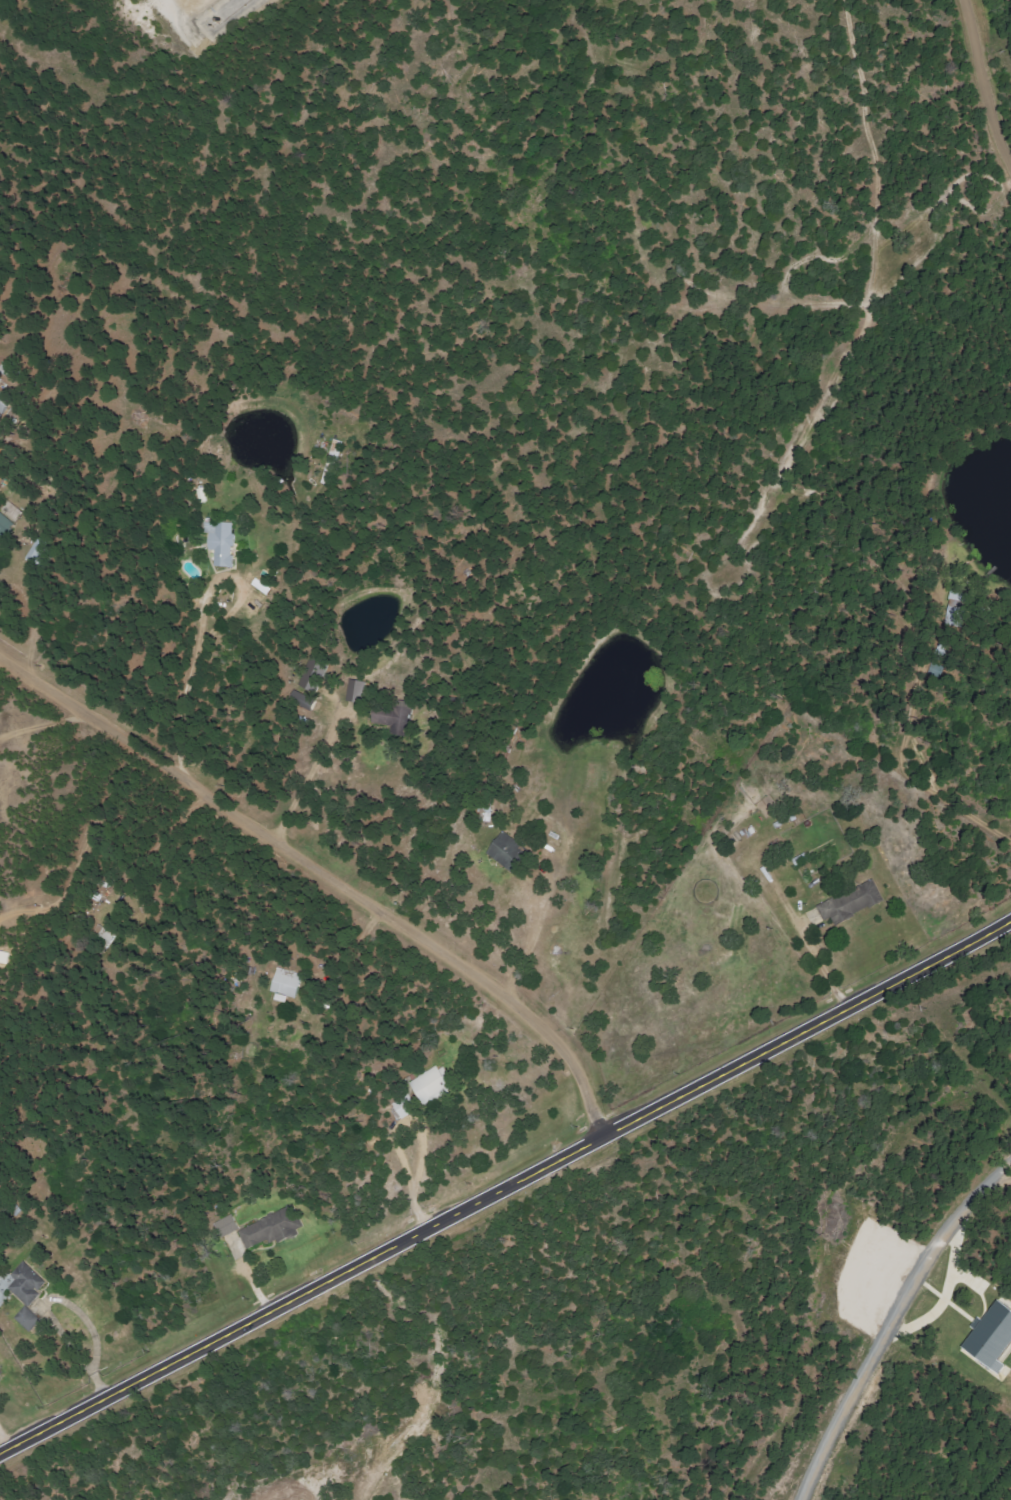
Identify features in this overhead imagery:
road: (987, 86)
building: (5, 405)
building: (6, 526)
building: (223, 542)
building: (315, 674)
building: (511, 852)
road: (326, 869)
building: (854, 904)
building: (7, 957)
building: (289, 983)
building: (434, 1084)
building: (407, 1107)
road: (504, 1182)
building: (229, 1226)
building: (276, 1229)
building: (31, 1295)
road: (892, 1317)
building: (994, 1338)

